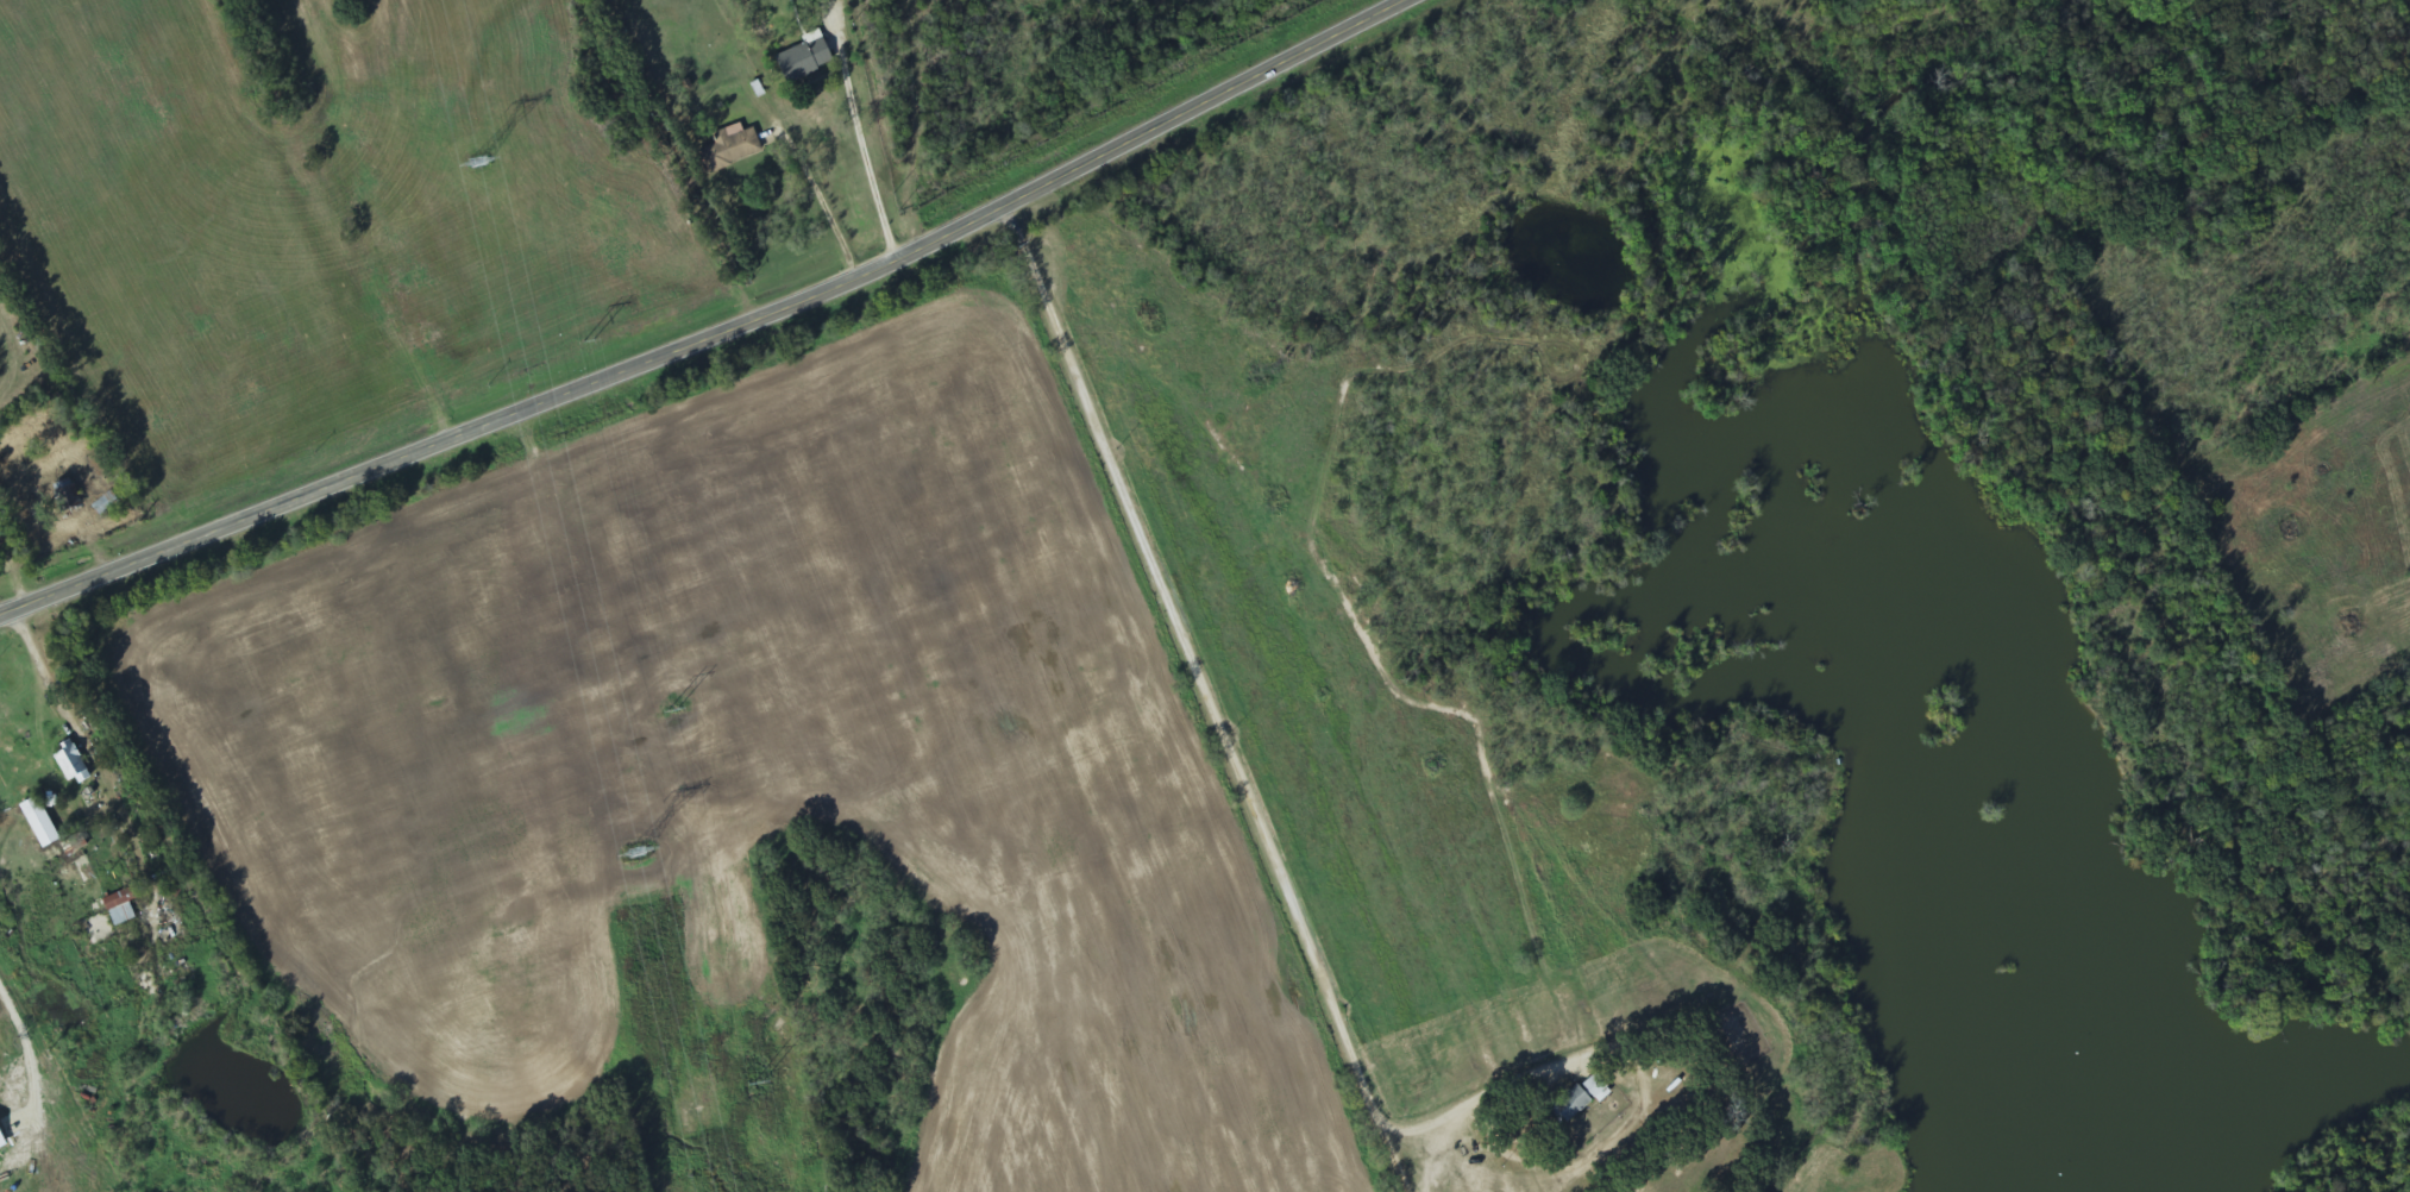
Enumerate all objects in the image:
building: (802, 58)
building: (728, 149)
power tower: (478, 163)
road: (717, 338)
power tower: (588, 345)
road: (56, 479)
power tower: (673, 715)
building: (68, 763)
road: (1236, 771)
building: (36, 822)
power tower: (639, 852)
building: (108, 918)
power tower: (757, 1084)
building: (1580, 1098)
building: (1, 1144)

